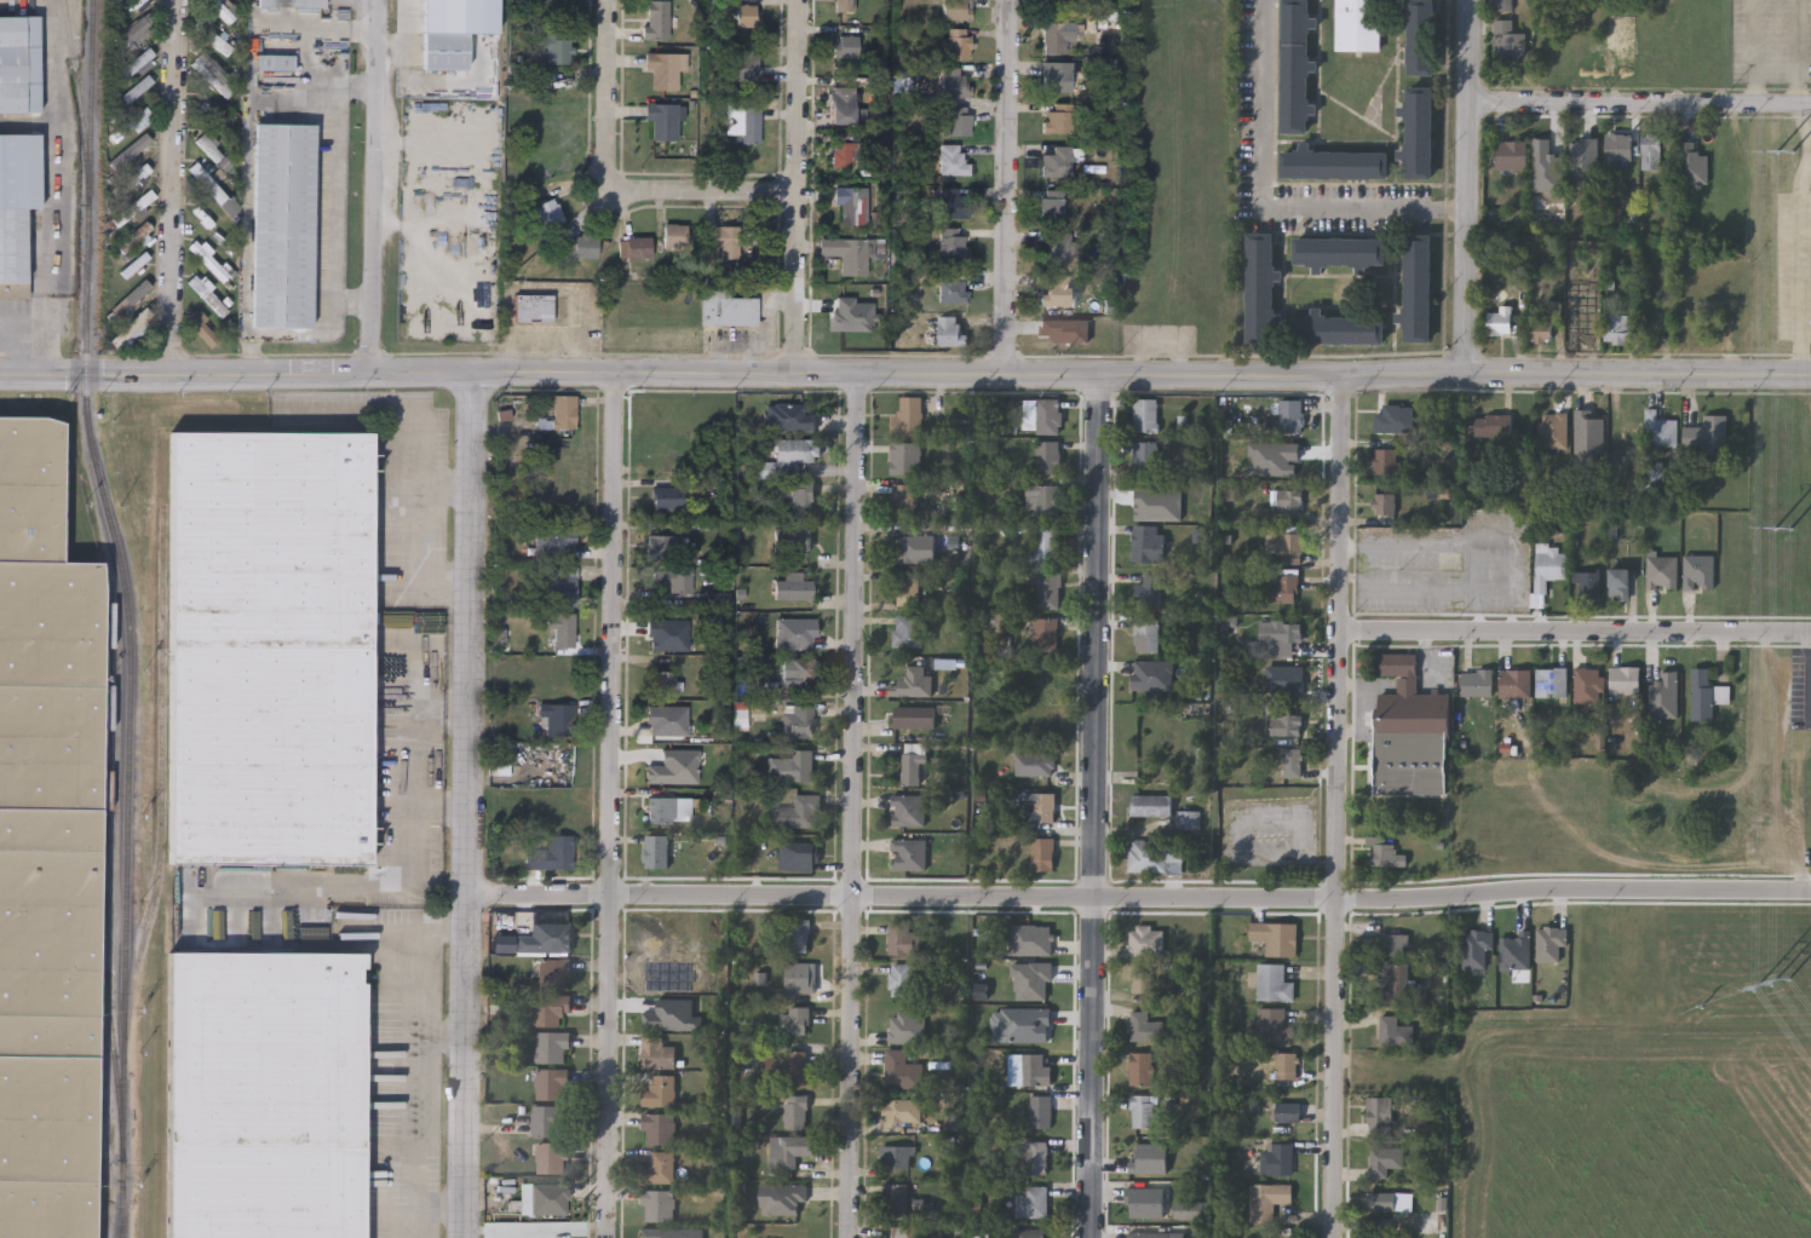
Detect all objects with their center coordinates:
building: (728, 1)
building: (1057, 1)
building: (292, 2)
building: (845, 5)
building: (955, 8)
building: (223, 10)
building: (748, 15)
building: (656, 19)
building: (1358, 24)
building: (132, 30)
building: (211, 35)
building: (1054, 38)
building: (1421, 38)
parking lot: (1771, 41)
building: (958, 42)
building: (1507, 42)
building: (845, 46)
building: (553, 47)
building: (445, 50)
road: (1758, 53)
road: (1798, 53)
building: (276, 62)
building: (19, 63)
building: (134, 63)
building: (137, 65)
building: (748, 65)
building: (1295, 67)
building: (662, 69)
building: (212, 76)
building: (1057, 76)
building: (954, 84)
building: (137, 88)
railway: (79, 94)
road: (1265, 105)
road: (1638, 105)
building: (846, 108)
building: (1058, 119)
building: (663, 120)
building: (958, 121)
building: (751, 125)
building: (1420, 133)
building: (208, 146)
building: (1620, 148)
building: (130, 150)
building: (1581, 150)
building: (1652, 152)
power tower: (1788, 152)
building: (843, 154)
building: (1512, 156)
building: (953, 160)
building: (1058, 162)
building: (1334, 163)
road: (248, 177)
building: (130, 179)
building: (207, 182)
road: (614, 182)
road: (372, 185)
road: (172, 186)
road: (53, 188)
road: (797, 188)
road: (1465, 188)
road: (1002, 189)
building: (17, 200)
building: (953, 202)
building: (855, 203)
building: (1052, 203)
building: (132, 207)
road: (337, 207)
road: (1453, 207)
road: (1353, 209)
building: (548, 212)
building: (283, 224)
building: (133, 236)
building: (677, 236)
building: (726, 240)
building: (953, 243)
building: (586, 247)
building: (1059, 247)
building: (636, 248)
building: (1339, 252)
building: (849, 254)
building: (207, 260)
building: (133, 264)
building: (137, 266)
road: (1805, 271)
building: (952, 286)
building: (1260, 288)
building: (1418, 288)
building: (1057, 290)
building: (206, 294)
building: (534, 306)
building: (726, 307)
building: (1500, 322)
building: (130, 327)
building: (202, 328)
building: (1339, 328)
building: (1580, 328)
building: (1617, 329)
building: (950, 330)
building: (1541, 330)
building: (1056, 334)
road: (730, 374)
road: (1634, 376)
building: (563, 409)
building: (1145, 414)
building: (1290, 414)
building: (1050, 415)
building: (789, 416)
building: (908, 416)
building: (1395, 418)
building: (1629, 425)
building: (1491, 426)
building: (1554, 431)
building: (1660, 432)
building: (1707, 433)
building: (787, 456)
building: (1047, 456)
building: (1146, 456)
building: (905, 457)
building: (1385, 460)
building: (668, 496)
building: (803, 499)
building: (903, 499)
building: (1042, 500)
building: (1289, 500)
building: (1384, 502)
power tower: (1786, 529)
road: (427, 535)
building: (792, 537)
building: (553, 540)
building: (1148, 542)
building: (660, 545)
building: (1045, 545)
building: (916, 547)
building: (1289, 547)
parking lot: (1448, 564)
building: (1548, 566)
building: (1661, 571)
building: (1698, 572)
building: (674, 576)
building: (562, 585)
building: (1282, 585)
building: (1620, 585)
building: (1588, 586)
building: (793, 588)
building: (907, 588)
building: (1048, 589)
building: (1148, 589)
railway: (128, 616)
building: (564, 628)
road: (1397, 628)
building: (907, 629)
building: (1045, 630)
road: (1634, 630)
building: (795, 632)
building: (1146, 633)
building: (1284, 635)
building: (271, 647)
building: (799, 669)
building: (1151, 674)
building: (1288, 678)
building: (662, 679)
building: (1623, 680)
building: (912, 681)
building: (1550, 681)
building: (1513, 683)
building: (1479, 685)
building: (1587, 685)
building: (1703, 693)
building: (914, 715)
building: (557, 718)
building: (667, 719)
building: (797, 721)
building: (1286, 722)
building: (1412, 733)
building: (1293, 761)
road: (412, 762)
building: (1034, 762)
building: (790, 766)
building: (914, 767)
railway: (161, 778)
road: (462, 805)
road: (609, 805)
building: (1151, 805)
road: (851, 806)
building: (1045, 806)
road: (1091, 807)
road: (1333, 807)
building: (655, 810)
building: (908, 810)
building: (797, 812)
park: (1597, 819)
building: (47, 846)
building: (656, 851)
building: (551, 853)
building: (908, 853)
building: (1042, 853)
building: (1386, 854)
building: (798, 856)
building: (1155, 856)
railway: (107, 865)
road: (1633, 889)
road: (958, 894)
road: (403, 929)
building: (798, 935)
building: (536, 937)
building: (1276, 937)
building: (902, 938)
building: (1145, 938)
building: (1396, 944)
building: (1548, 944)
building: (1476, 948)
building: (1514, 951)
building: (553, 972)
building: (798, 979)
building: (903, 979)
building: (1142, 981)
building: (1274, 981)
building: (1396, 981)
power tower: (1771, 985)
building: (550, 1007)
building: (1040, 1019)
building: (794, 1020)
building: (901, 1025)
building: (1146, 1026)
building: (1274, 1026)
building: (1396, 1031)
road: (438, 1032)
building: (552, 1046)
building: (657, 1052)
railway: (114, 1064)
building: (1287, 1065)
building: (795, 1066)
building: (1140, 1067)
building: (902, 1070)
building: (1034, 1070)
building: (551, 1083)
road: (418, 1084)
building: (660, 1090)
building: (266, 1095)
building: (795, 1110)
building: (901, 1110)
building: (1143, 1110)
building: (1041, 1111)
building: (1284, 1111)
building: (1380, 1113)
building: (550, 1118)
building: (659, 1128)
building: (794, 1147)
building: (897, 1156)
building: (552, 1157)
building: (1036, 1157)
building: (1150, 1157)
building: (1277, 1158)
building: (1385, 1159)
building: (660, 1168)
building: (784, 1197)
building: (548, 1198)
building: (1267, 1199)
building: (896, 1200)
building: (1390, 1200)
building: (1033, 1202)
building: (1145, 1202)
building: (659, 1204)
road: (438, 1205)
railway: (120, 1215)
building: (1409, 1221)
park: (672, 1232)
building: (1031, 1233)
building: (1150, 1234)
building: (902, 1236)

